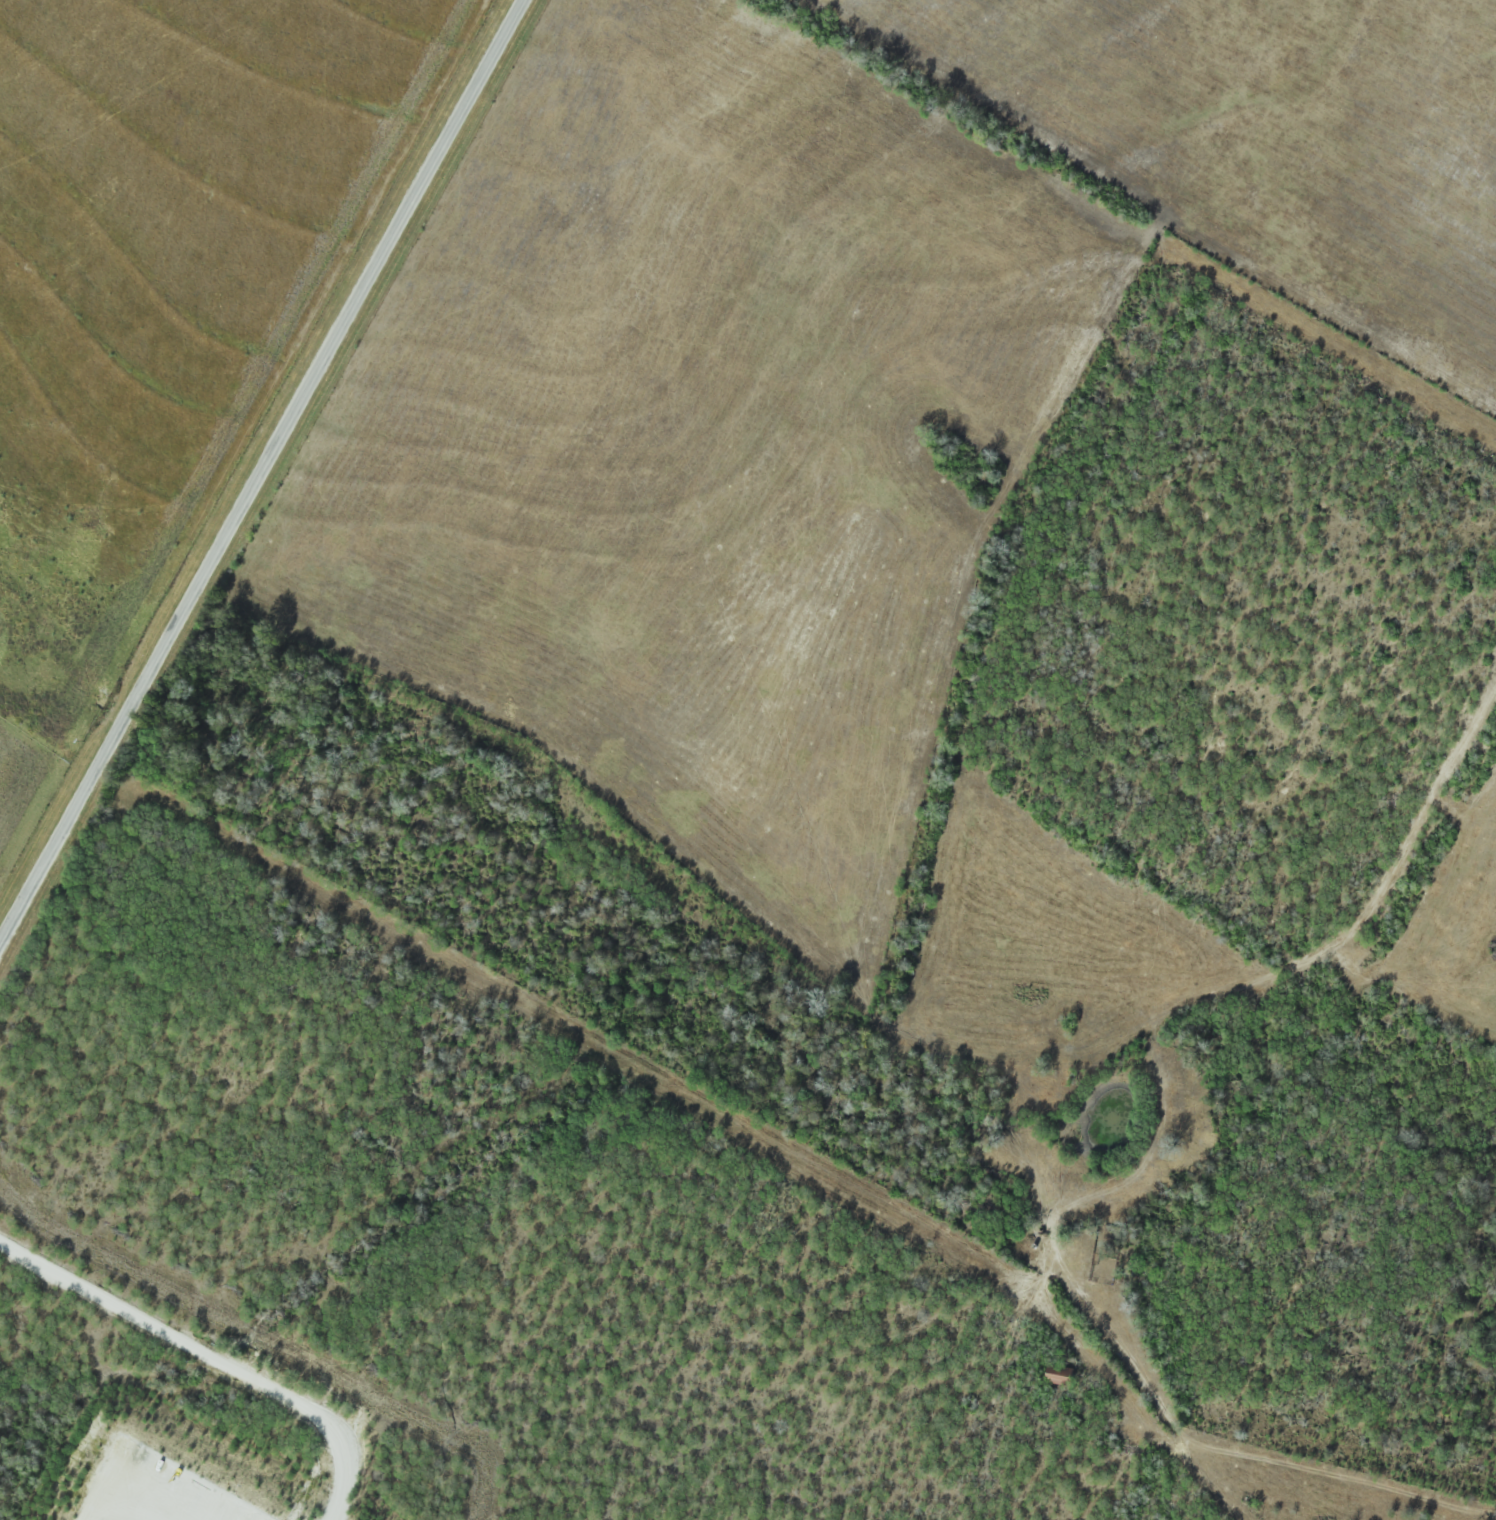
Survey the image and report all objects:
road: (264, 472)
road: (205, 1361)

